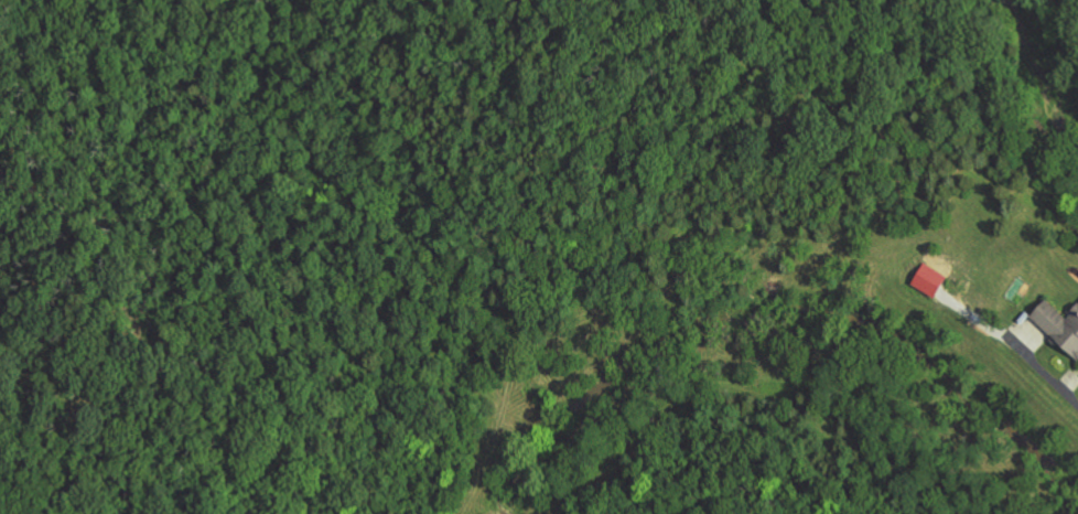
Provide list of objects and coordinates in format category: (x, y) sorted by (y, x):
building: (929, 278)
building: (1059, 323)
road: (1046, 335)
road: (1030, 336)
road: (1011, 343)
road: (1077, 373)
road: (1070, 383)

